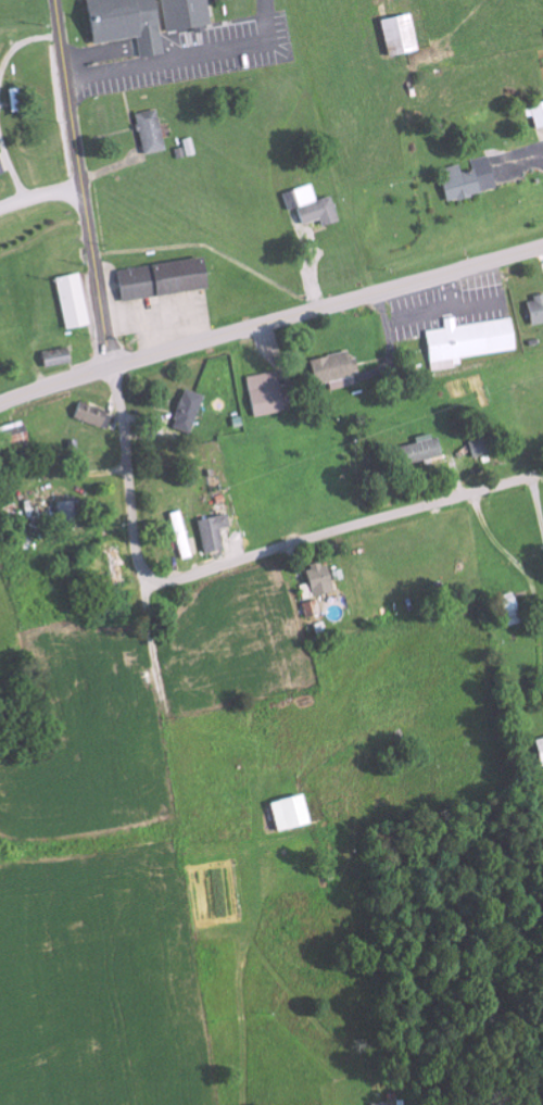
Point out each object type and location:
building: (182, 13)
building: (125, 24)
building: (395, 35)
building: (14, 99)
building: (535, 114)
building: (147, 131)
road: (426, 134)
building: (465, 179)
road: (81, 184)
building: (308, 205)
building: (157, 279)
building: (68, 301)
building: (534, 310)
road: (270, 322)
building: (465, 341)
building: (52, 357)
building: (331, 369)
building: (267, 394)
building: (184, 411)
building: (90, 415)
building: (12, 440)
building: (477, 447)
building: (420, 449)
road: (128, 475)
building: (62, 510)
road: (348, 527)
building: (210, 531)
building: (177, 535)
building: (113, 566)
building: (316, 579)
building: (302, 591)
building: (505, 606)
road: (76, 608)
building: (308, 608)
building: (539, 750)
building: (286, 813)
building: (380, 1103)

